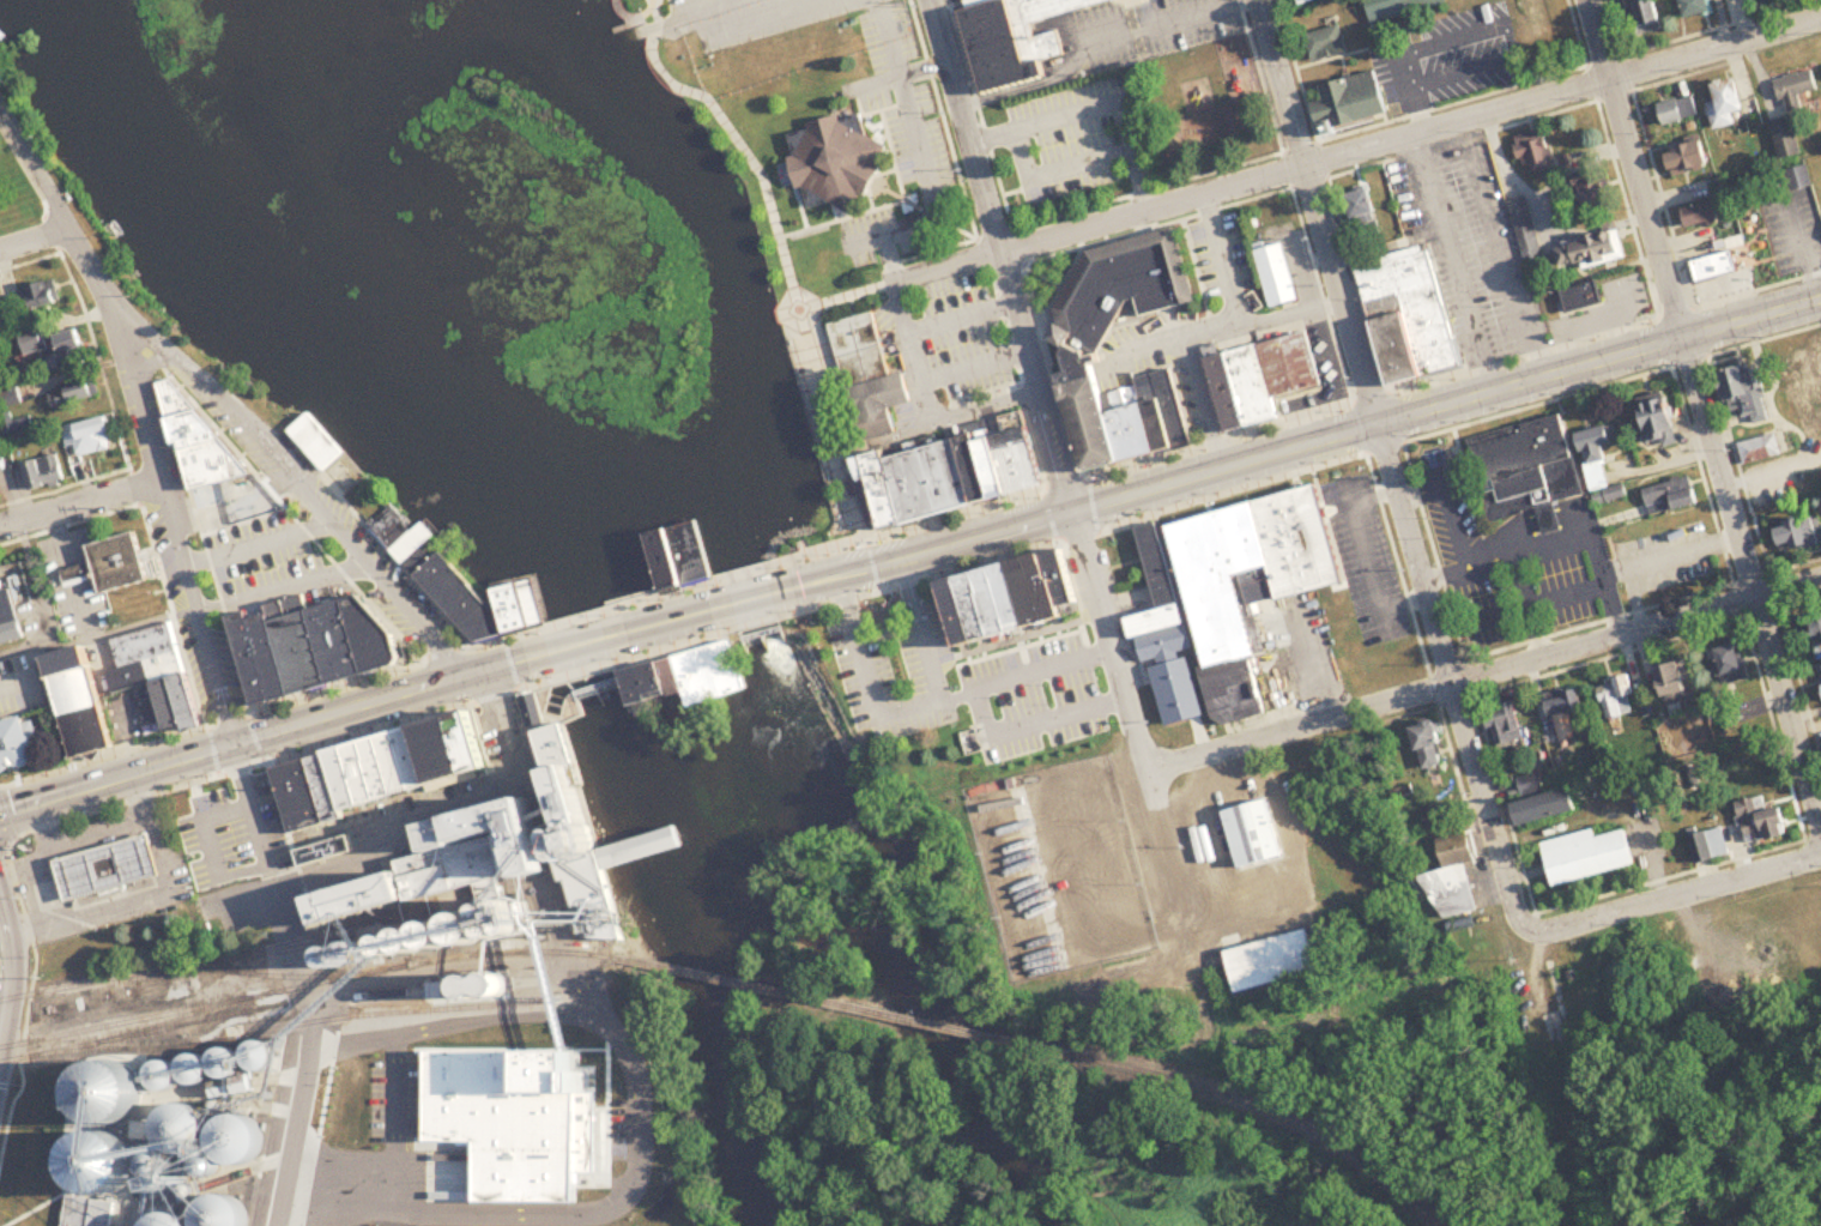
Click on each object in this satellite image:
building: (1306, 1)
building: (1696, 7)
building: (1398, 8)
road: (697, 14)
building: (1642, 16)
parking lot: (769, 19)
road: (1149, 22)
building: (1015, 36)
parking lot: (884, 37)
building: (1326, 43)
road: (1409, 52)
road: (899, 78)
building: (1796, 85)
building: (1351, 102)
building: (1726, 103)
road: (1095, 107)
building: (1680, 110)
road: (864, 114)
road: (726, 133)
building: (1786, 137)
parking lot: (912, 139)
road: (1349, 152)
building: (1537, 152)
building: (827, 158)
building: (1689, 158)
road: (1634, 168)
road: (920, 177)
building: (1793, 179)
road: (863, 180)
flagpole: (879, 191)
building: (1587, 193)
road: (881, 206)
road: (1318, 212)
building: (1704, 213)
building: (1366, 217)
road: (933, 221)
building: (1525, 230)
road: (36, 237)
parking lot: (887, 237)
building: (1590, 250)
road: (1493, 253)
road: (997, 255)
road: (913, 256)
road: (1220, 261)
road: (1448, 265)
building: (1716, 266)
building: (1277, 277)
road: (101, 282)
building: (1113, 285)
road: (846, 297)
building: (36, 298)
building: (1581, 298)
road: (799, 300)
building: (1410, 318)
building: (788, 319)
road: (926, 327)
building: (1060, 337)
road: (1200, 338)
parking lot: (940, 340)
road: (1005, 344)
building: (851, 348)
building: (53, 351)
road: (943, 376)
building: (1264, 380)
building: (71, 393)
building: (1809, 393)
building: (1744, 394)
building: (870, 400)
road: (916, 405)
building: (1081, 407)
road: (973, 410)
building: (1660, 423)
building: (19, 428)
road: (805, 430)
building: (90, 436)
road: (1329, 439)
road: (861, 440)
building: (196, 446)
building: (1760, 451)
building: (1599, 466)
building: (1527, 467)
building: (37, 470)
building: (957, 473)
road: (297, 488)
building: (1671, 496)
road: (80, 503)
river: (553, 519)
building: (1799, 536)
building: (415, 542)
road: (153, 543)
road: (255, 545)
parking lot: (261, 550)
road: (1359, 555)
parking lot: (800, 568)
building: (113, 569)
road: (928, 573)
road: (1752, 581)
road: (801, 582)
building: (1254, 594)
road: (743, 599)
building: (1014, 599)
building: (468, 603)
building: (1160, 605)
road: (198, 614)
building: (10, 618)
road: (663, 621)
building: (1814, 630)
parking lot: (663, 632)
building: (304, 634)
road: (1011, 641)
road: (581, 642)
road: (919, 642)
road: (858, 662)
dam: (683, 665)
building: (1732, 665)
parking lot: (859, 670)
building: (1820, 670)
building: (155, 671)
building: (1014, 674)
road: (1481, 675)
building: (684, 676)
parking lot: (1026, 677)
road: (1299, 680)
road: (16, 682)
building: (1676, 684)
building: (1619, 699)
road: (1458, 700)
building: (80, 702)
building: (533, 702)
road: (975, 708)
building: (1566, 713)
building: (1506, 724)
road: (1127, 726)
road: (208, 727)
road: (508, 732)
road: (277, 735)
building: (17, 744)
building: (1430, 744)
road: (103, 756)
building: (379, 772)
building: (1531, 781)
building: (1548, 807)
road: (204, 819)
building: (1761, 822)
road: (46, 832)
river: (763, 832)
building: (1256, 834)
road: (96, 843)
building: (1711, 846)
building: (515, 852)
building: (1589, 856)
building: (109, 865)
building: (1457, 884)
road: (1696, 888)
road: (161, 898)
road: (44, 910)
road: (291, 920)
railway: (355, 923)
railway: (259, 955)
building: (1274, 961)
road: (7, 971)
road: (1011, 974)
railway: (266, 977)
railway: (302, 986)
railway: (840, 1005)
railway: (117, 1037)
railway: (171, 1047)
building: (456, 1092)
railway: (1272, 1111)
building: (190, 1133)
road: (289, 1162)
road: (437, 1208)
building: (86, 1212)
building: (188, 1222)

